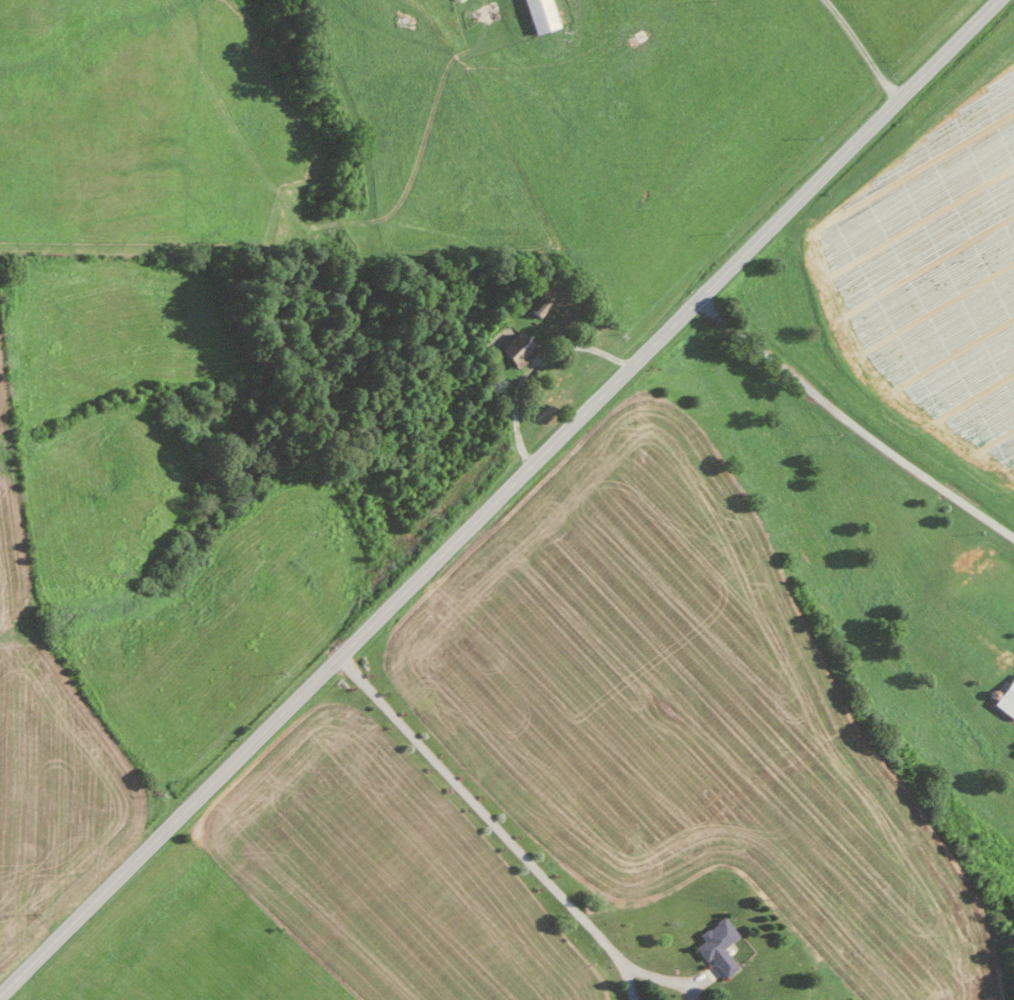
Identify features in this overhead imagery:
building: (539, 16)
road: (860, 48)
crop: (157, 127)
building: (539, 308)
building: (516, 350)
road: (531, 363)
road: (851, 424)
road: (498, 497)
crop: (177, 499)
building: (1005, 696)
crop: (52, 718)
road: (491, 825)
building: (713, 944)
road: (663, 980)

